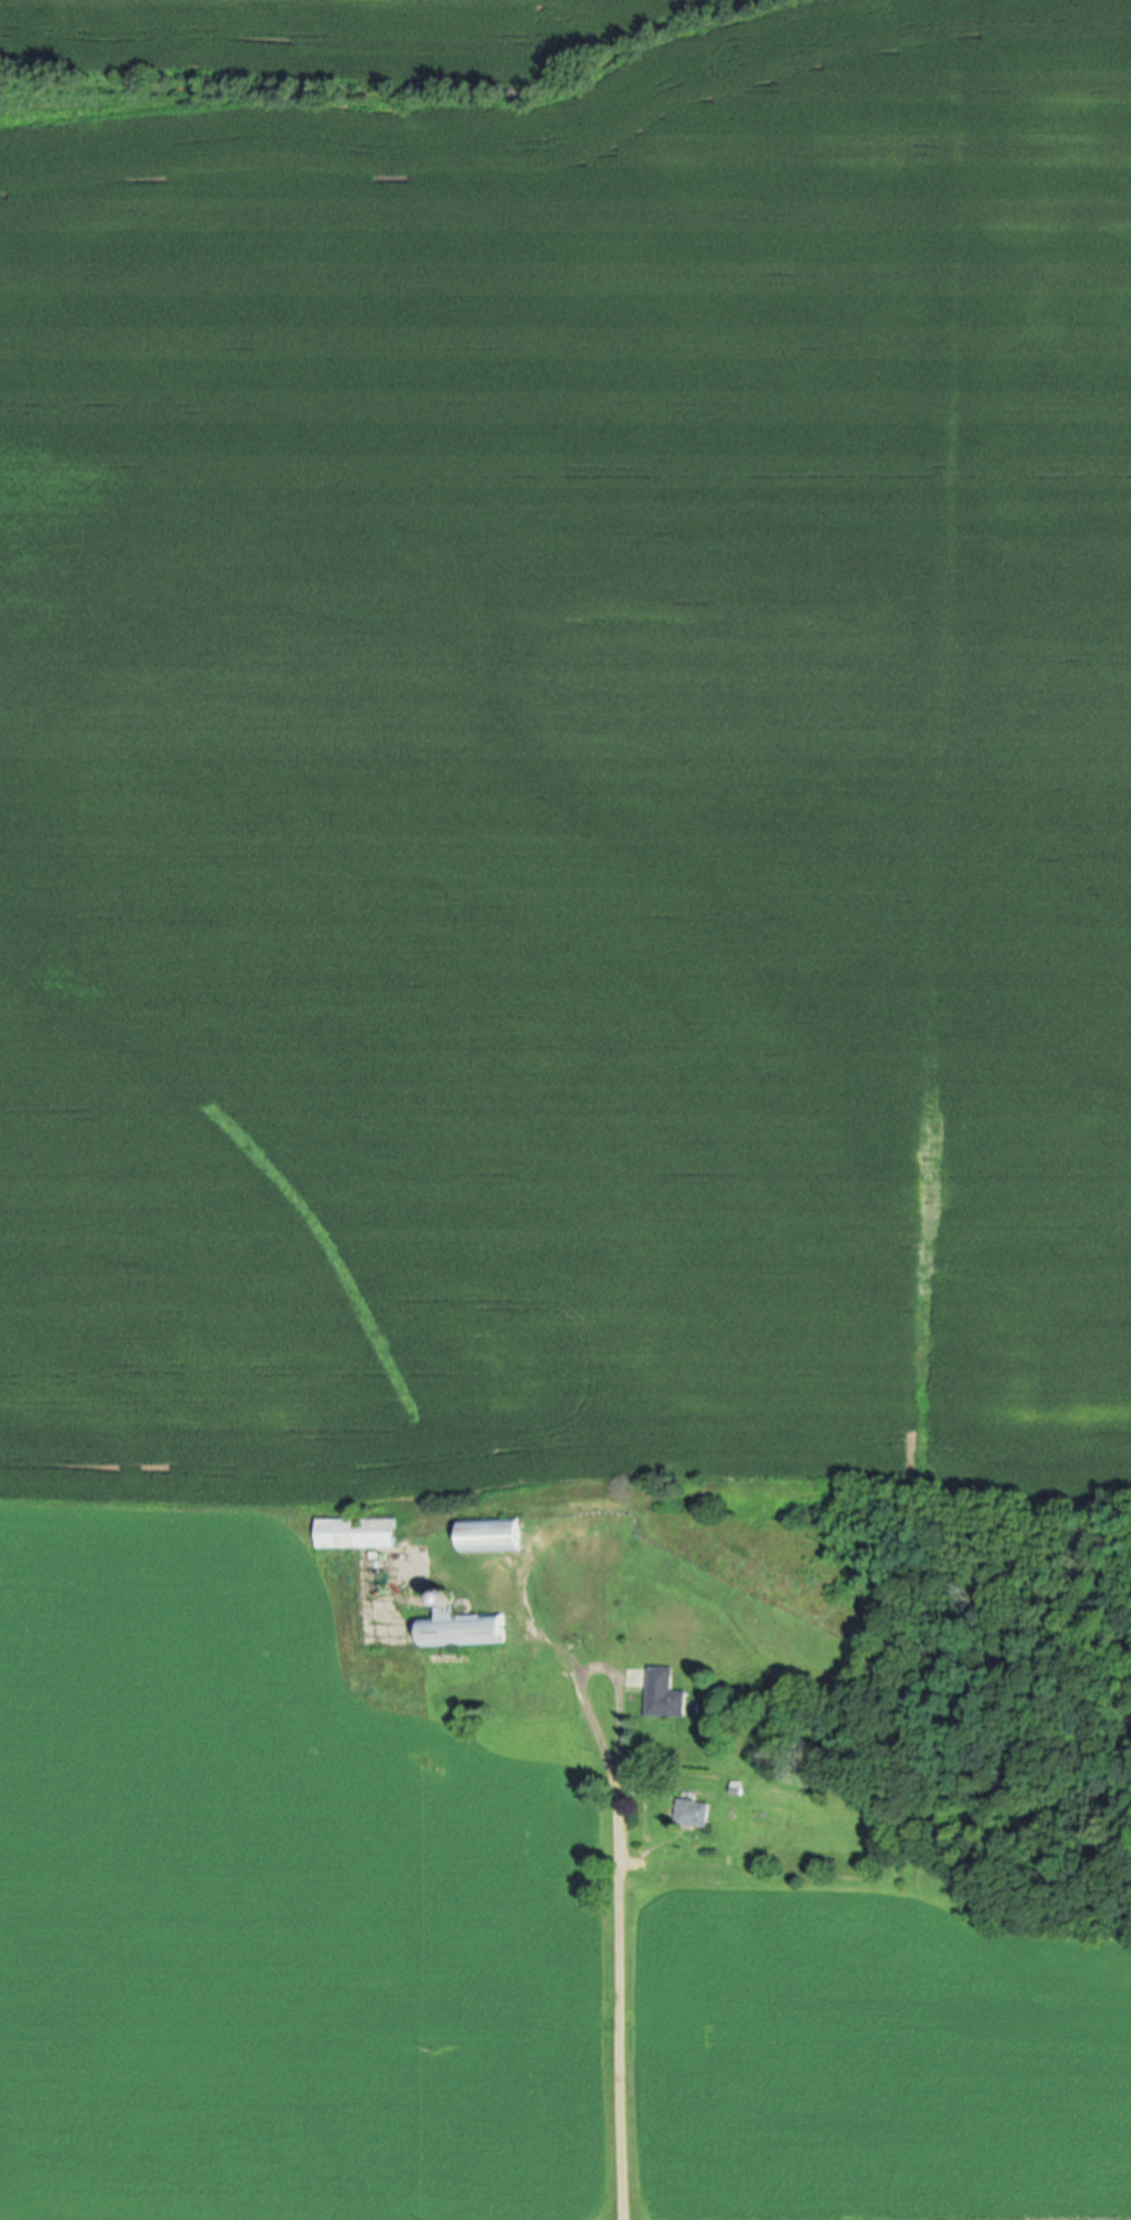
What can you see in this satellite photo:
crop: (562, 744)
building: (360, 1531)
building: (491, 1533)
building: (462, 1624)
road: (594, 1661)
building: (662, 1693)
building: (693, 1812)
crop: (454, 1951)
road: (617, 1998)

